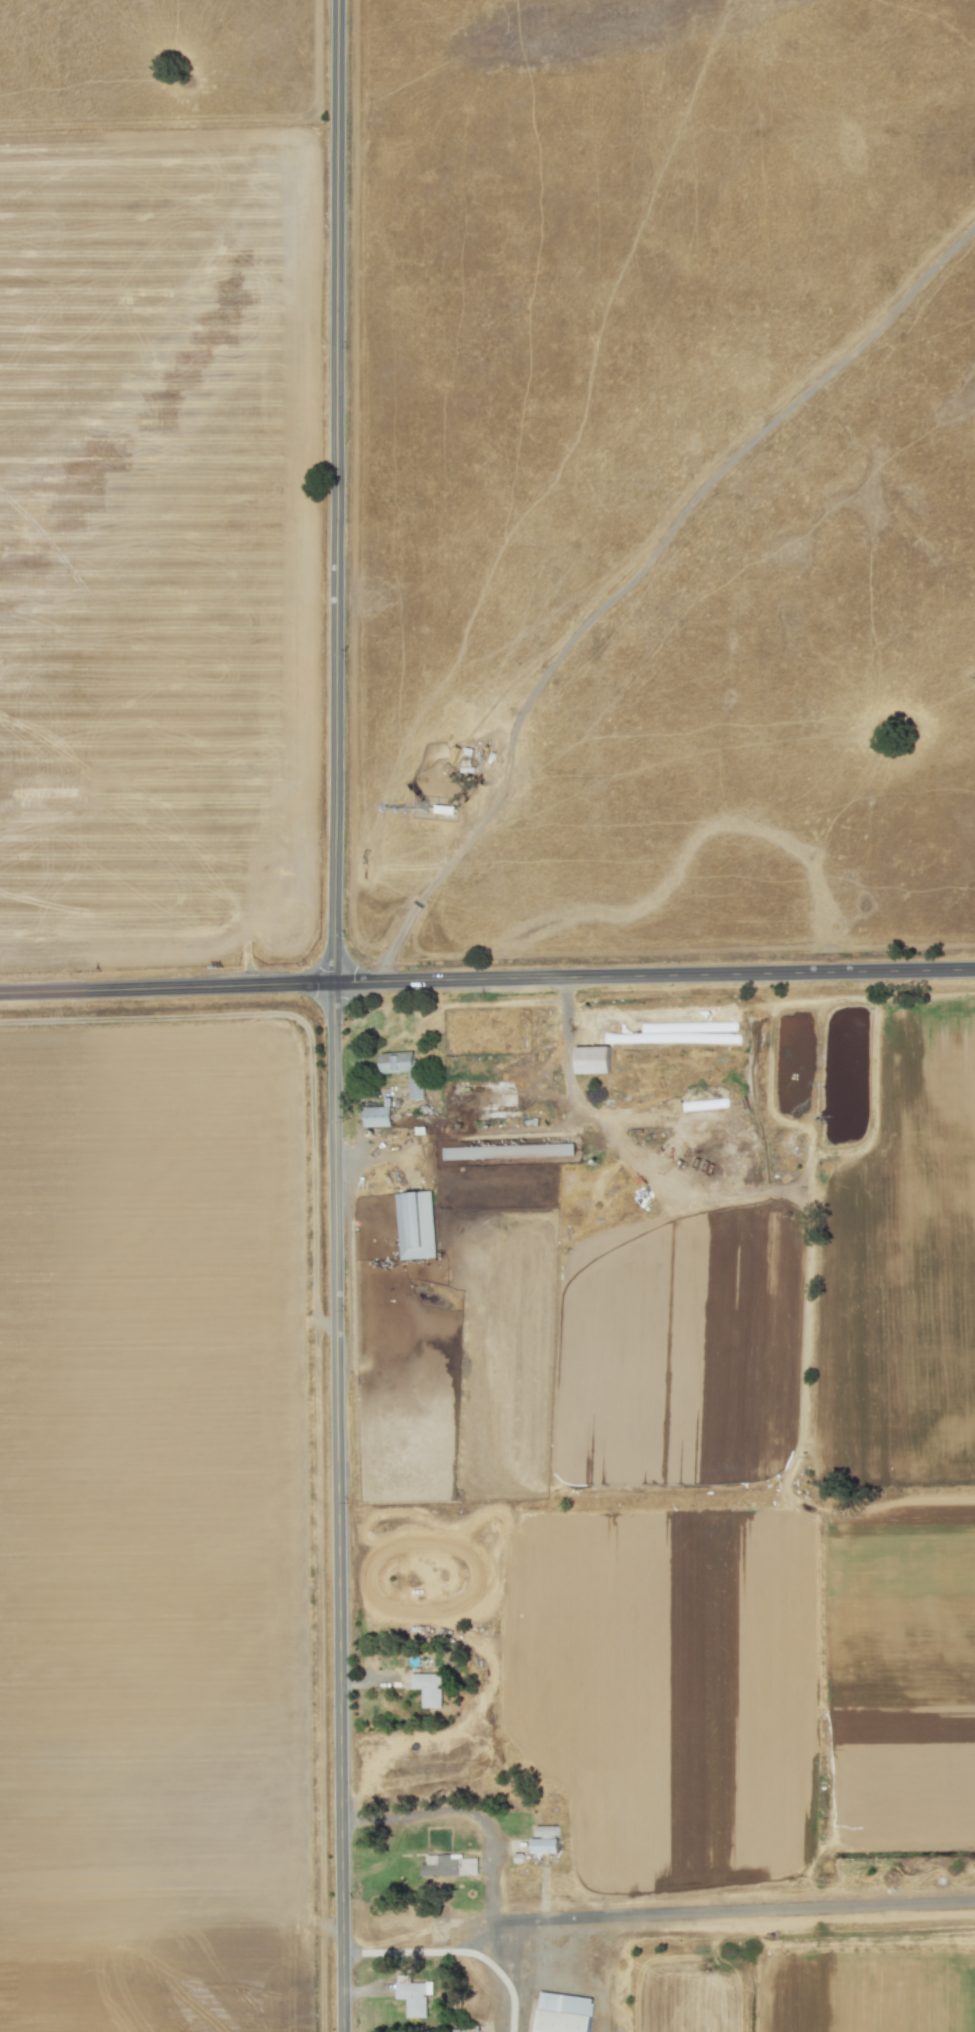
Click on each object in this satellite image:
road: (444, 868)
road: (487, 981)
road: (336, 1016)
building: (592, 1060)
building: (403, 1069)
road: (574, 1095)
building: (377, 1117)
building: (513, 1151)
building: (415, 1225)
building: (428, 1689)
road: (481, 1826)
building: (544, 1846)
building: (449, 1866)
airport runway: (769, 1907)
road: (457, 1952)
building: (414, 1998)
building: (563, 2013)

